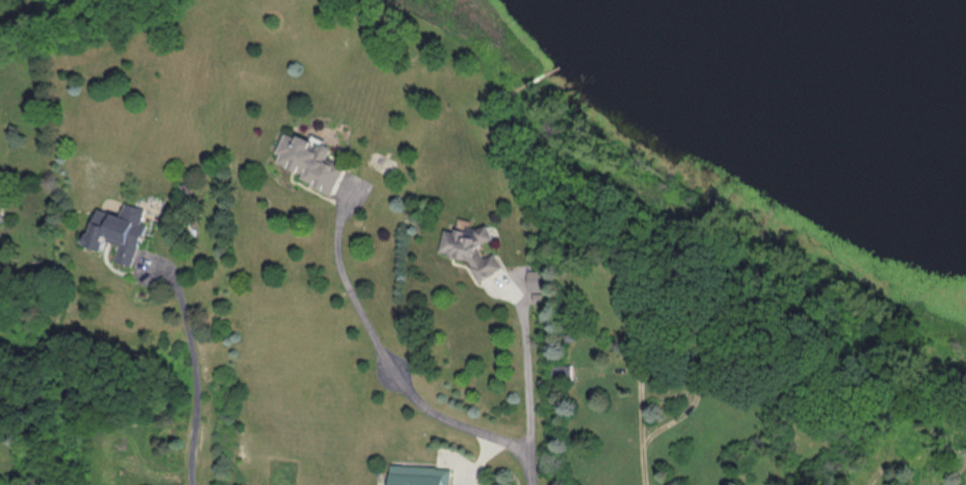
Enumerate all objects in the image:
pier: (530, 83)
building: (307, 163)
building: (118, 235)
building: (475, 251)
road: (194, 365)
road: (677, 366)
road: (395, 370)
building: (561, 372)
road: (528, 378)
road: (478, 458)
road: (644, 463)
road: (530, 465)
building: (420, 475)

